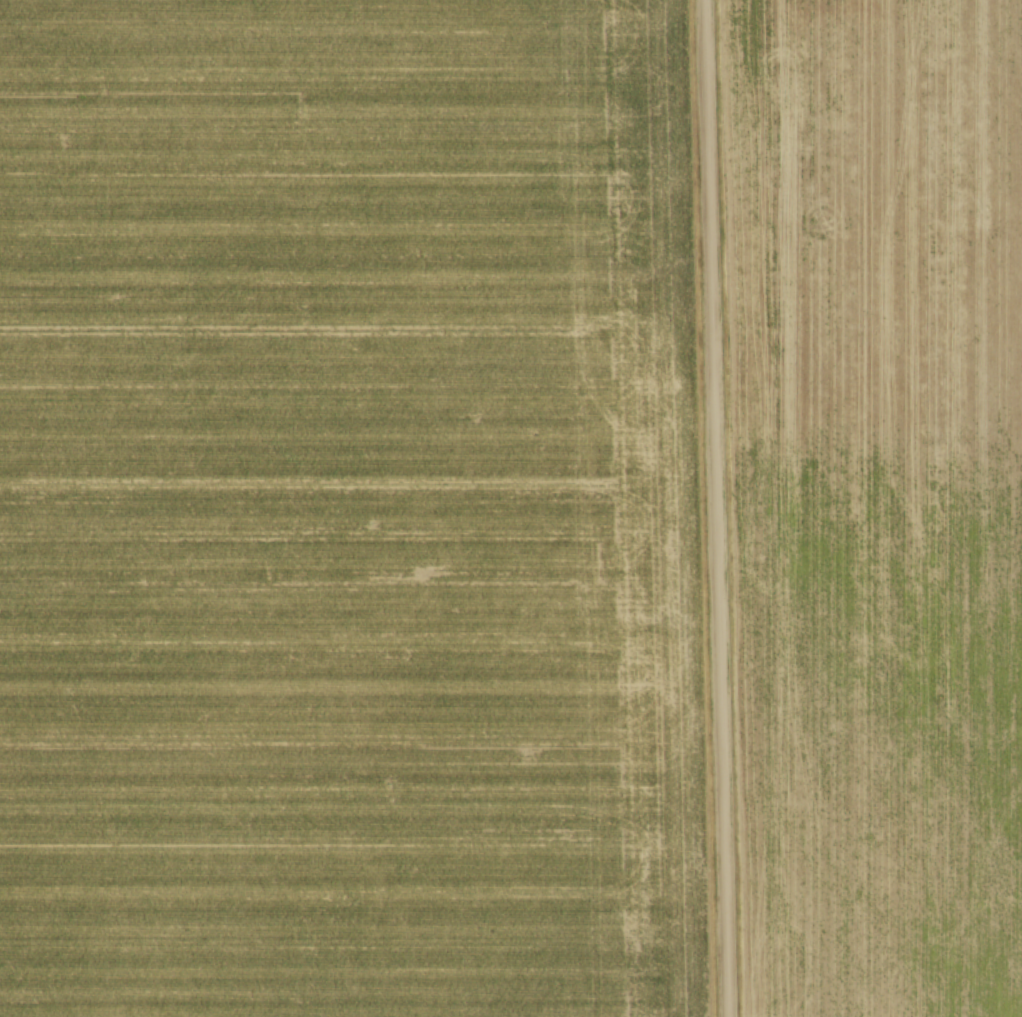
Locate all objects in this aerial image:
crop: (874, 502)
road: (710, 508)
crop: (344, 511)

